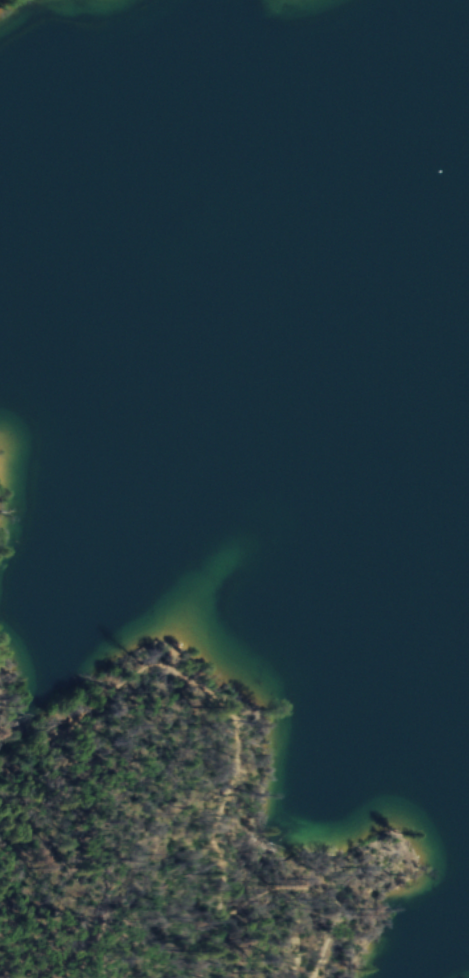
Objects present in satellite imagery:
road: (228, 755)

